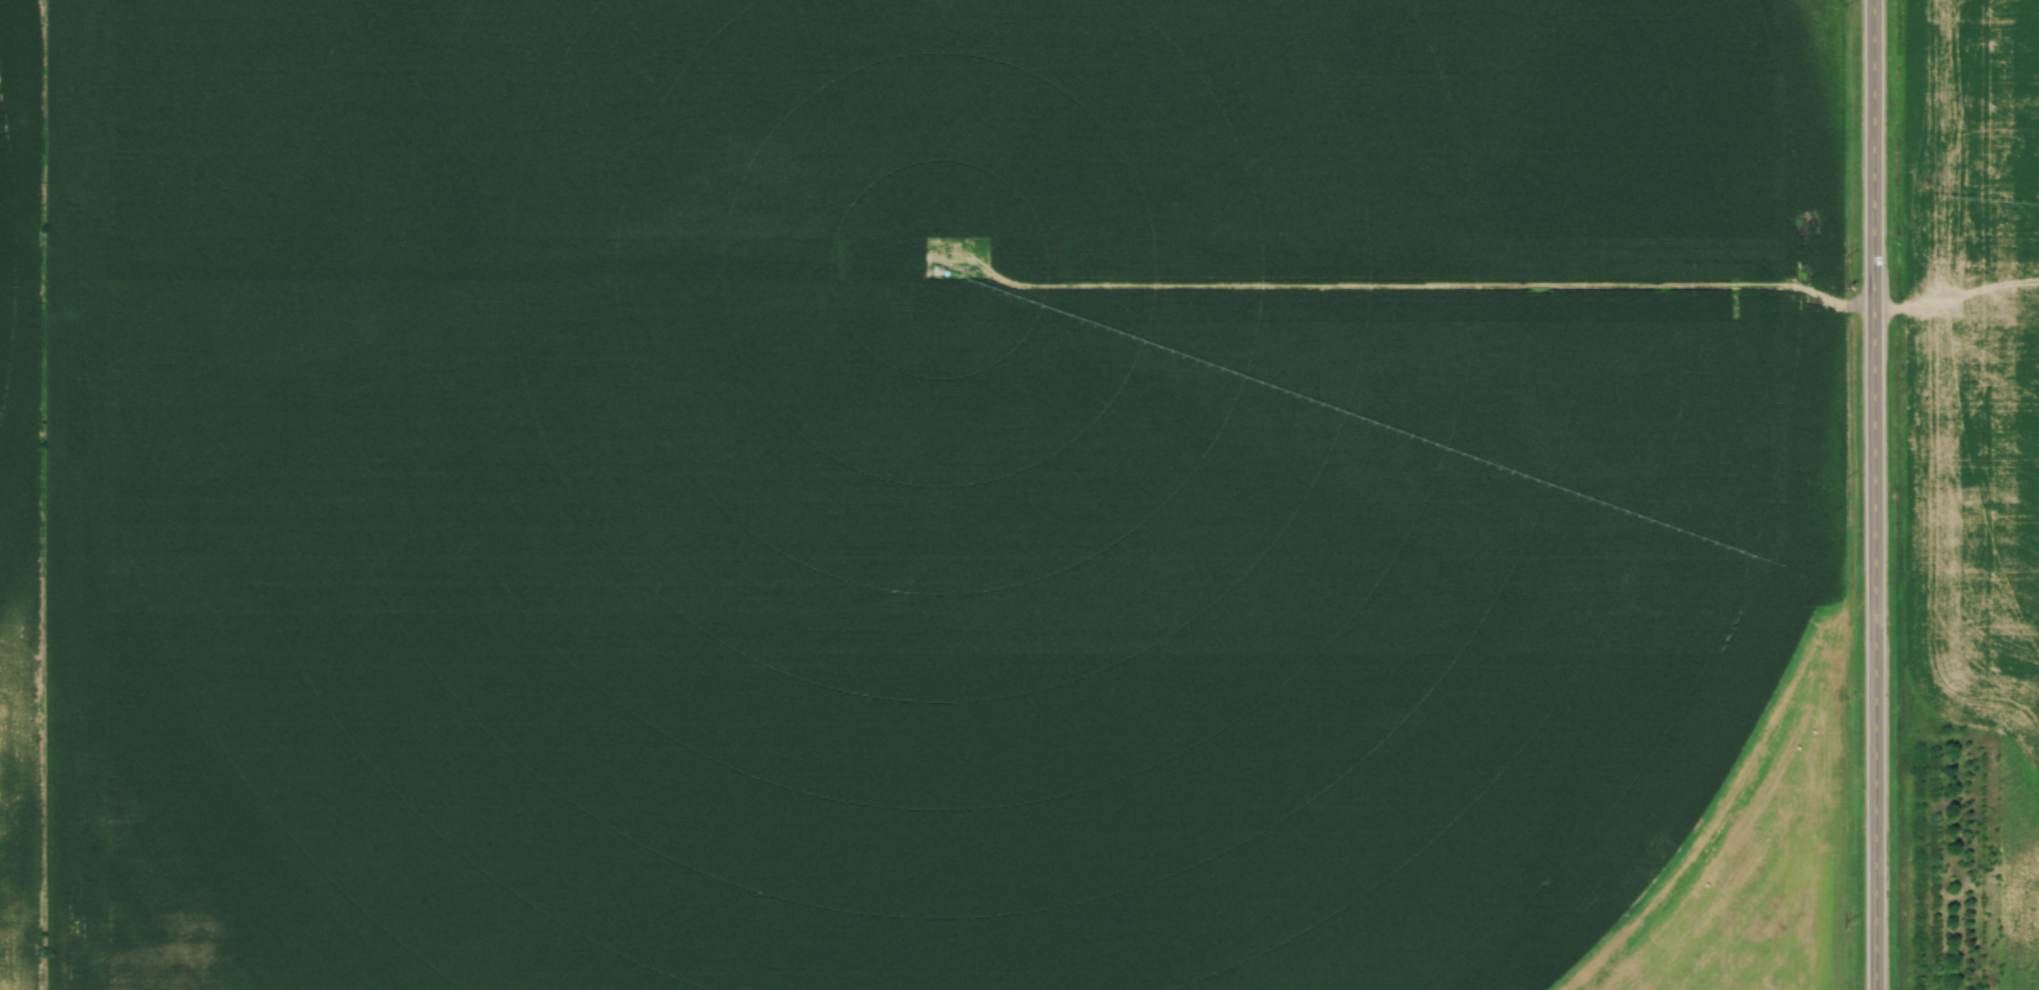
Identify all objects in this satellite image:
road: (1875, 494)

